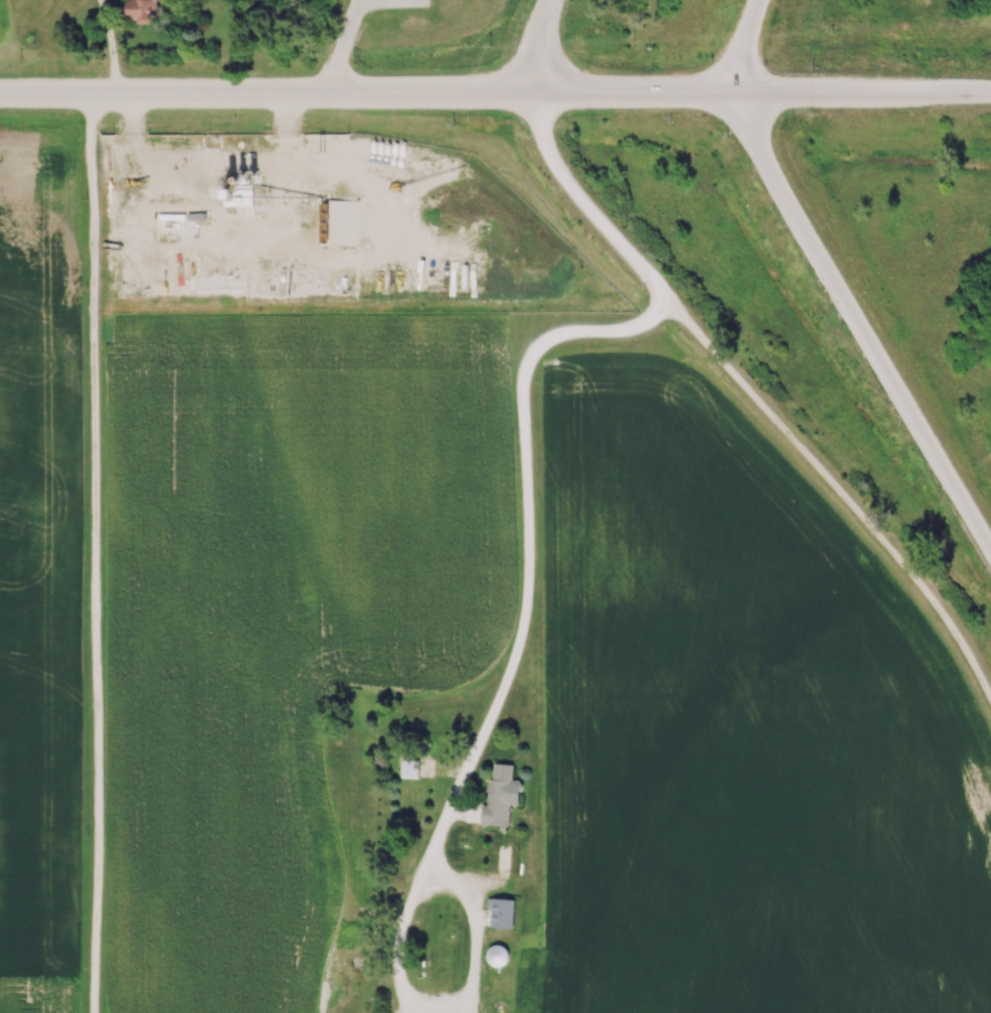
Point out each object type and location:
road: (346, 33)
road: (528, 45)
road: (741, 45)
road: (113, 46)
road: (495, 93)
road: (857, 327)
road: (516, 386)
road: (93, 553)
road: (435, 839)
road: (475, 927)
road: (399, 938)

